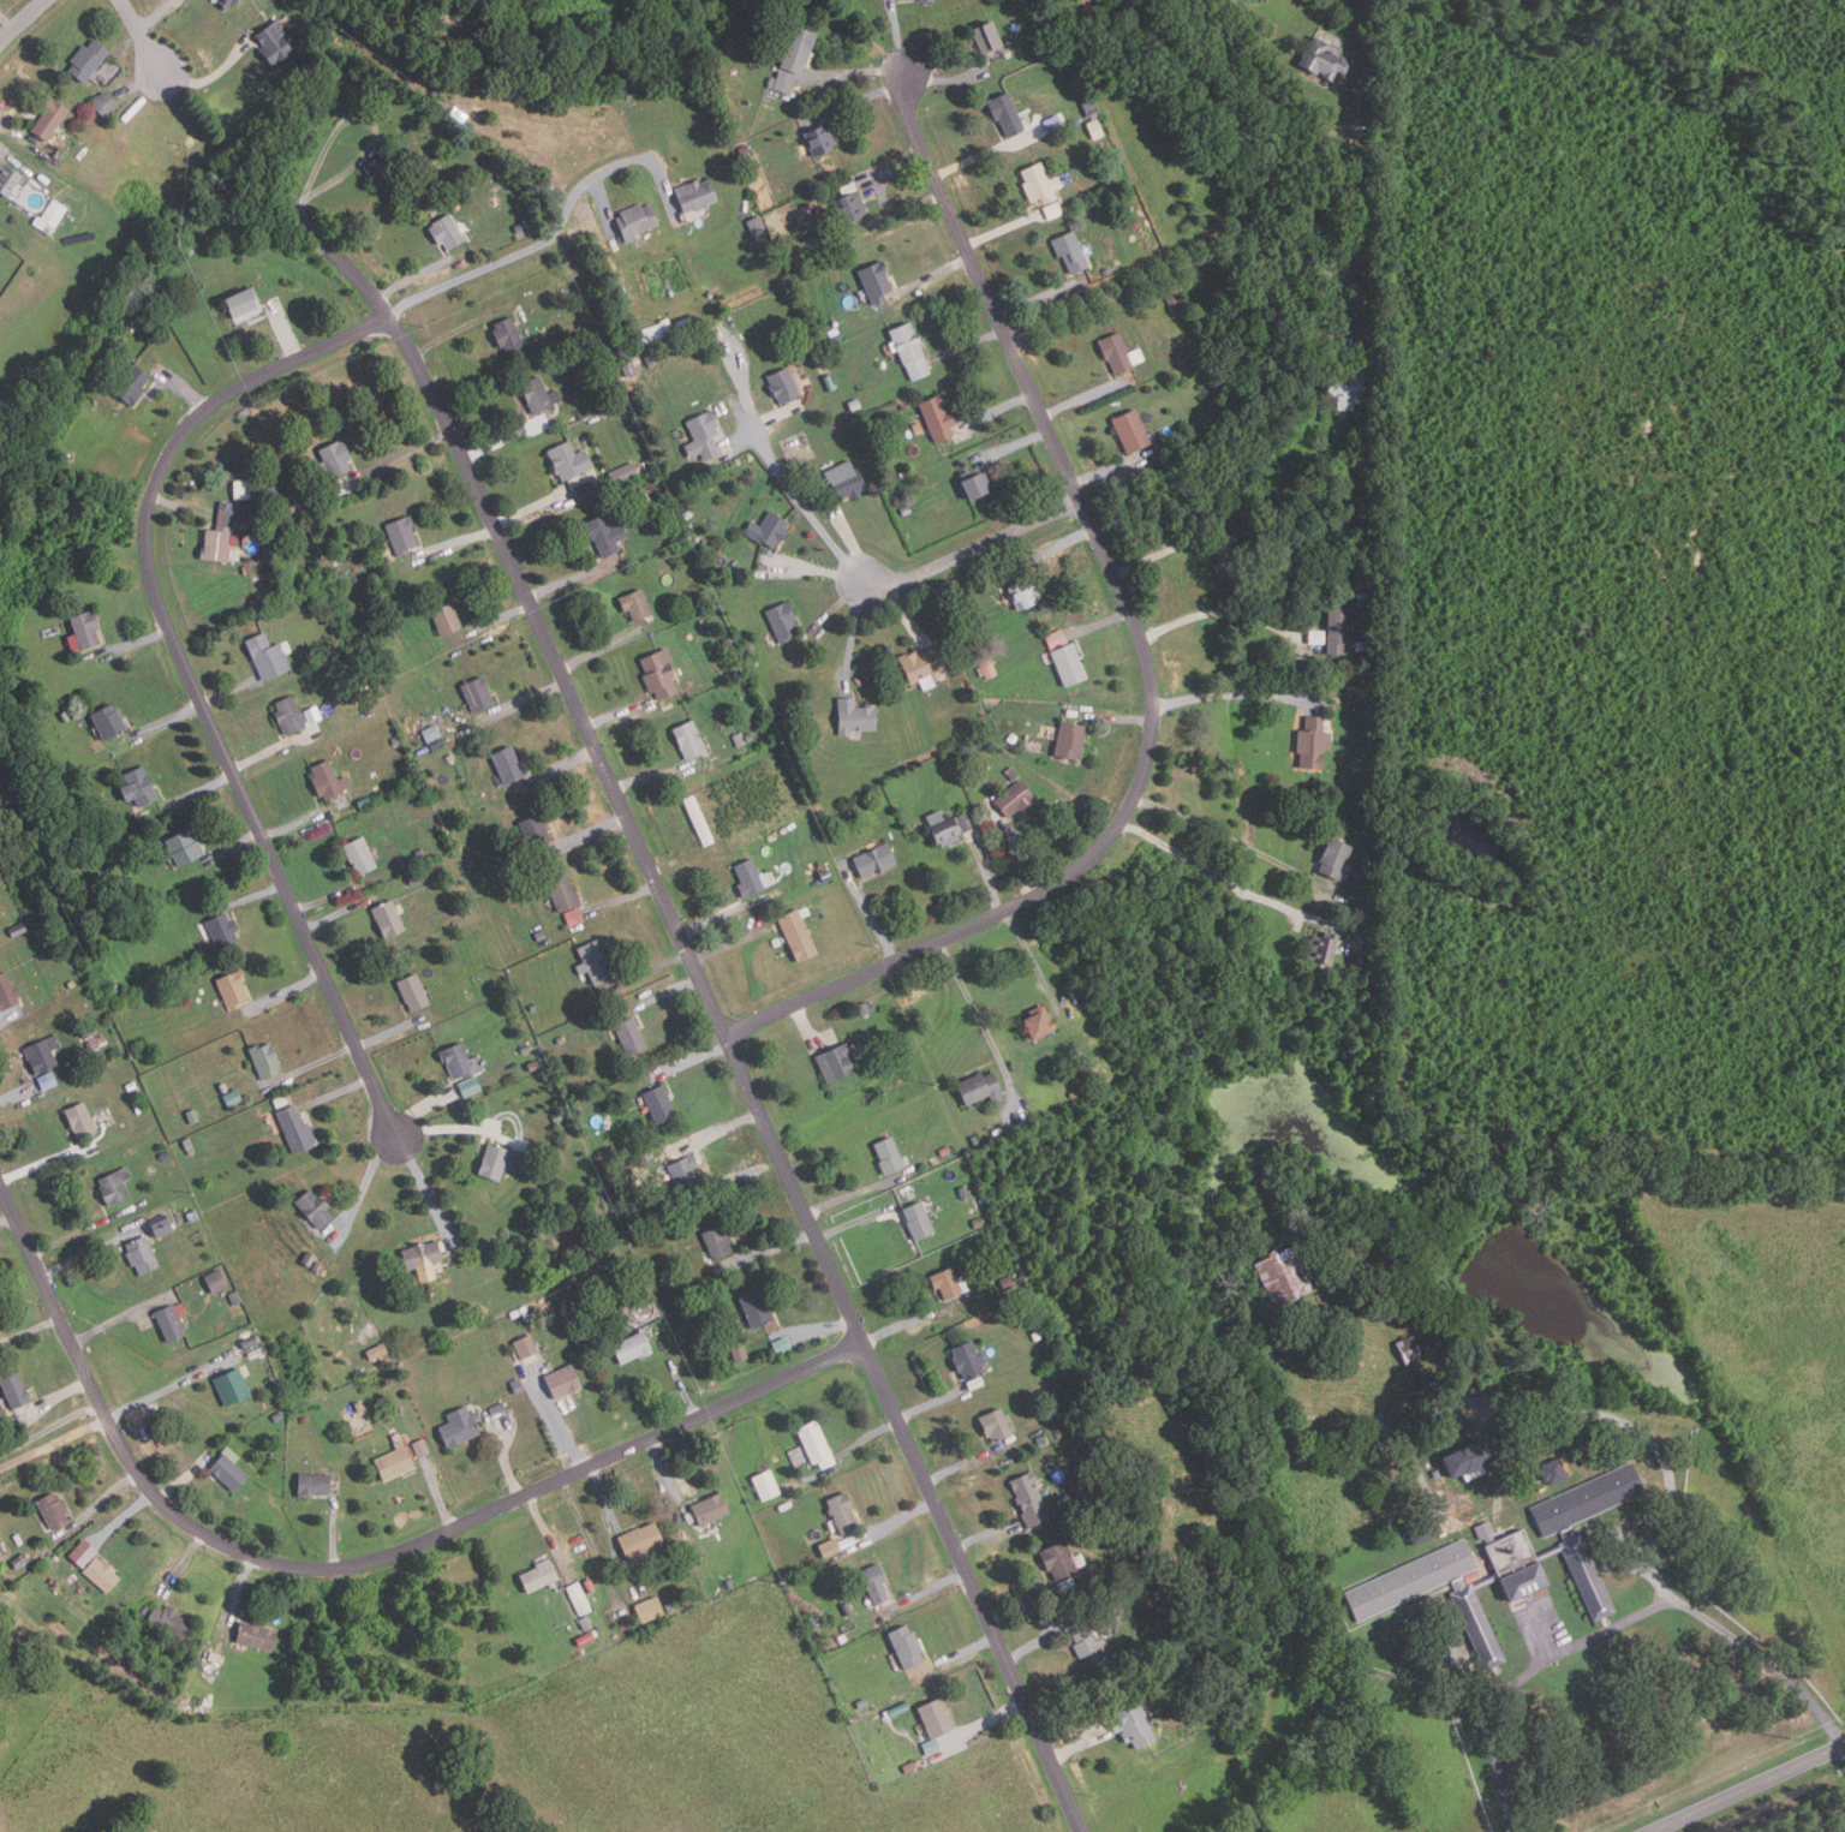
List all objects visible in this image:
building: (907, 0)
building: (929, 0)
building: (227, 2)
road: (155, 14)
road: (20, 19)
road: (6, 22)
road: (141, 34)
road: (896, 36)
building: (989, 37)
building: (275, 43)
building: (798, 49)
building: (89, 60)
building: (1325, 60)
road: (858, 70)
road: (211, 76)
road: (947, 78)
road: (141, 83)
building: (783, 83)
road: (856, 101)
building: (105, 103)
building: (1091, 105)
building: (1008, 114)
building: (50, 118)
road: (342, 121)
building: (1053, 123)
road: (17, 129)
building: (1097, 130)
building: (823, 141)
road: (4, 150)
building: (747, 153)
road: (637, 155)
road: (980, 156)
road: (890, 167)
road: (1272, 169)
building: (383, 173)
building: (8, 180)
building: (1041, 184)
building: (697, 196)
road: (898, 205)
road: (605, 207)
building: (852, 208)
building: (50, 216)
building: (637, 221)
building: (757, 225)
building: (521, 227)
road: (1004, 228)
building: (448, 232)
building: (1071, 252)
road: (502, 258)
building: (801, 258)
road: (1308, 262)
road: (933, 271)
building: (1107, 271)
road: (414, 275)
building: (679, 280)
building: (877, 281)
road: (1118, 292)
road: (1037, 298)
building: (243, 303)
building: (1176, 304)
building: (132, 326)
building: (668, 327)
road: (285, 329)
road: (455, 332)
building: (508, 335)
building: (835, 335)
road: (969, 345)
building: (910, 350)
building: (1116, 352)
building: (651, 359)
building: (629, 368)
building: (830, 383)
building: (132, 384)
building: (784, 386)
building: (1347, 387)
road: (181, 388)
building: (539, 395)
road: (1085, 396)
building: (856, 405)
road: (997, 412)
road: (777, 417)
building: (938, 418)
building: (828, 420)
building: (1368, 425)
building: (1133, 431)
building: (704, 436)
road: (504, 440)
road: (745, 441)
road: (1009, 444)
road: (400, 454)
building: (338, 456)
building: (571, 461)
road: (1107, 470)
building: (625, 473)
building: (847, 481)
building: (978, 485)
building: (271, 491)
road: (539, 501)
road: (179, 505)
building: (231, 505)
road: (801, 508)
building: (906, 511)
building: (227, 517)
building: (771, 530)
building: (257, 532)
building: (402, 533)
building: (607, 536)
road: (456, 541)
road: (852, 541)
building: (219, 542)
road: (1056, 548)
road: (973, 549)
road: (1163, 550)
building: (1223, 553)
building: (267, 556)
road: (804, 565)
building: (247, 568)
building: (1367, 572)
road: (563, 580)
building: (1023, 593)
building: (1368, 598)
building: (637, 603)
road: (903, 610)
road: (1219, 614)
road: (501, 617)
building: (447, 619)
building: (781, 620)
road: (1101, 621)
building: (86, 627)
building: (1341, 628)
road: (852, 634)
building: (746, 635)
building: (1057, 638)
road: (133, 643)
building: (1365, 645)
road: (599, 651)
road: (1144, 651)
building: (268, 656)
building: (724, 656)
building: (925, 663)
building: (1070, 663)
building: (990, 668)
building: (661, 673)
road: (191, 676)
road: (229, 690)
building: (479, 693)
road: (1231, 693)
road: (527, 699)
building: (370, 709)
road: (617, 712)
building: (289, 714)
building: (65, 716)
building: (856, 716)
road: (1112, 716)
building: (109, 721)
road: (157, 723)
building: (432, 733)
building: (750, 735)
building: (691, 739)
building: (739, 739)
building: (1071, 739)
building: (395, 740)
building: (1314, 741)
building: (437, 744)
road: (271, 751)
building: (449, 757)
building: (509, 763)
road: (563, 764)
building: (1014, 771)
road: (645, 776)
building: (327, 780)
building: (141, 786)
road: (199, 792)
building: (1016, 798)
building: (364, 801)
building: (699, 819)
road: (293, 824)
building: (949, 825)
building: (536, 830)
road: (593, 831)
road: (1228, 837)
road: (234, 843)
building: (185, 846)
road: (1013, 847)
building: (419, 852)
building: (360, 854)
building: (1336, 857)
building: (877, 859)
road: (674, 860)
road: (987, 872)
building: (418, 877)
building: (750, 877)
road: (1232, 882)
building: (565, 891)
road: (261, 894)
road: (323, 899)
road: (623, 899)
road: (867, 909)
road: (338, 913)
building: (574, 917)
building: (389, 919)
road: (709, 921)
building: (223, 927)
building: (17, 930)
building: (541, 935)
building: (799, 935)
road: (732, 944)
building: (1325, 948)
road: (1031, 959)
building: (596, 962)
road: (651, 966)
building: (1363, 968)
building: (114, 986)
building: (233, 989)
road: (286, 991)
building: (413, 991)
building: (7, 992)
road: (668, 992)
building: (472, 997)
building: (533, 1007)
building: (865, 1008)
road: (977, 1009)
road: (10, 1016)
road: (804, 1021)
building: (1039, 1021)
road: (723, 1028)
road: (386, 1034)
building: (631, 1036)
building: (561, 1039)
building: (96, 1043)
building: (547, 1045)
building: (526, 1049)
building: (147, 1050)
building: (43, 1054)
road: (693, 1058)
building: (267, 1060)
building: (461, 1060)
building: (836, 1062)
building: (535, 1064)
road: (310, 1067)
building: (48, 1080)
building: (132, 1085)
building: (470, 1086)
building: (223, 1087)
building: (981, 1087)
road: (336, 1092)
road: (17, 1093)
building: (234, 1097)
building: (661, 1103)
building: (139, 1104)
road: (419, 1108)
building: (193, 1115)
building: (559, 1116)
building: (80, 1120)
building: (297, 1128)
road: (444, 1128)
road: (716, 1129)
building: (189, 1142)
building: (945, 1151)
building: (891, 1154)
building: (647, 1157)
building: (268, 1159)
building: (501, 1159)
road: (47, 1162)
building: (686, 1172)
road: (363, 1182)
building: (114, 1186)
road: (425, 1189)
road: (854, 1192)
building: (965, 1193)
building: (315, 1207)
building: (193, 1215)
road: (858, 1219)
road: (7, 1221)
building: (920, 1221)
building: (979, 1222)
building: (162, 1227)
road: (68, 1236)
building: (720, 1240)
road: (765, 1251)
road: (88, 1253)
building: (142, 1255)
building: (424, 1257)
building: (309, 1258)
building: (320, 1267)
building: (1285, 1276)
building: (216, 1281)
building: (1005, 1282)
building: (948, 1283)
building: (235, 1297)
building: (567, 1307)
building: (758, 1308)
building: (479, 1312)
building: (515, 1313)
road: (119, 1317)
building: (172, 1321)
road: (910, 1321)
road: (825, 1327)
road: (30, 1330)
building: (0, 1333)
building: (1038, 1335)
building: (251, 1342)
building: (784, 1343)
building: (527, 1347)
building: (633, 1348)
building: (1410, 1349)
building: (256, 1353)
building: (741, 1355)
building: (968, 1359)
building: (565, 1382)
building: (977, 1383)
building: (233, 1386)
building: (16, 1390)
road: (159, 1391)
road: (685, 1391)
road: (55, 1397)
building: (280, 1398)
road: (931, 1402)
building: (497, 1408)
road: (555, 1415)
building: (279, 1416)
building: (305, 1419)
building: (997, 1424)
road: (48, 1425)
building: (460, 1426)
road: (871, 1433)
building: (1044, 1440)
road: (53, 1443)
building: (817, 1444)
building: (422, 1448)
building: (1470, 1457)
road: (502, 1460)
building: (394, 1461)
road: (967, 1464)
building: (1100, 1466)
building: (229, 1468)
road: (664, 1468)
building: (1554, 1470)
road: (184, 1478)
building: (314, 1484)
building: (768, 1485)
road: (436, 1494)
road: (603, 1497)
building: (1031, 1498)
road: (98, 1503)
building: (54, 1509)
building: (711, 1509)
building: (843, 1511)
road: (892, 1522)
road: (117, 1523)
road: (334, 1523)
building: (1422, 1529)
building: (1486, 1529)
road: (986, 1534)
road: (549, 1535)
building: (641, 1540)
building: (831, 1547)
building: (20, 1561)
building: (1063, 1561)
road: (348, 1563)
building: (1509, 1563)
road: (183, 1564)
building: (103, 1574)
building: (542, 1576)
building: (732, 1583)
building: (877, 1583)
building: (1067, 1583)
building: (591, 1586)
building: (56, 1587)
road: (932, 1589)
road: (239, 1592)
building: (580, 1599)
road: (1020, 1605)
building: (670, 1607)
building: (848, 1609)
building: (649, 1610)
building: (1064, 1612)
building: (172, 1622)
building: (814, 1622)
building: (585, 1623)
road: (1617, 1625)
building: (257, 1635)
building: (843, 1637)
road: (1040, 1643)
building: (908, 1646)
building: (1088, 1646)
road: (968, 1651)
building: (217, 1658)
building: (208, 1702)
building: (862, 1703)
building: (937, 1717)
road: (985, 1721)
building: (1135, 1724)
power tower: (1795, 1742)
road: (1076, 1743)
building: (932, 1747)
building: (910, 1767)
road: (1747, 1790)

